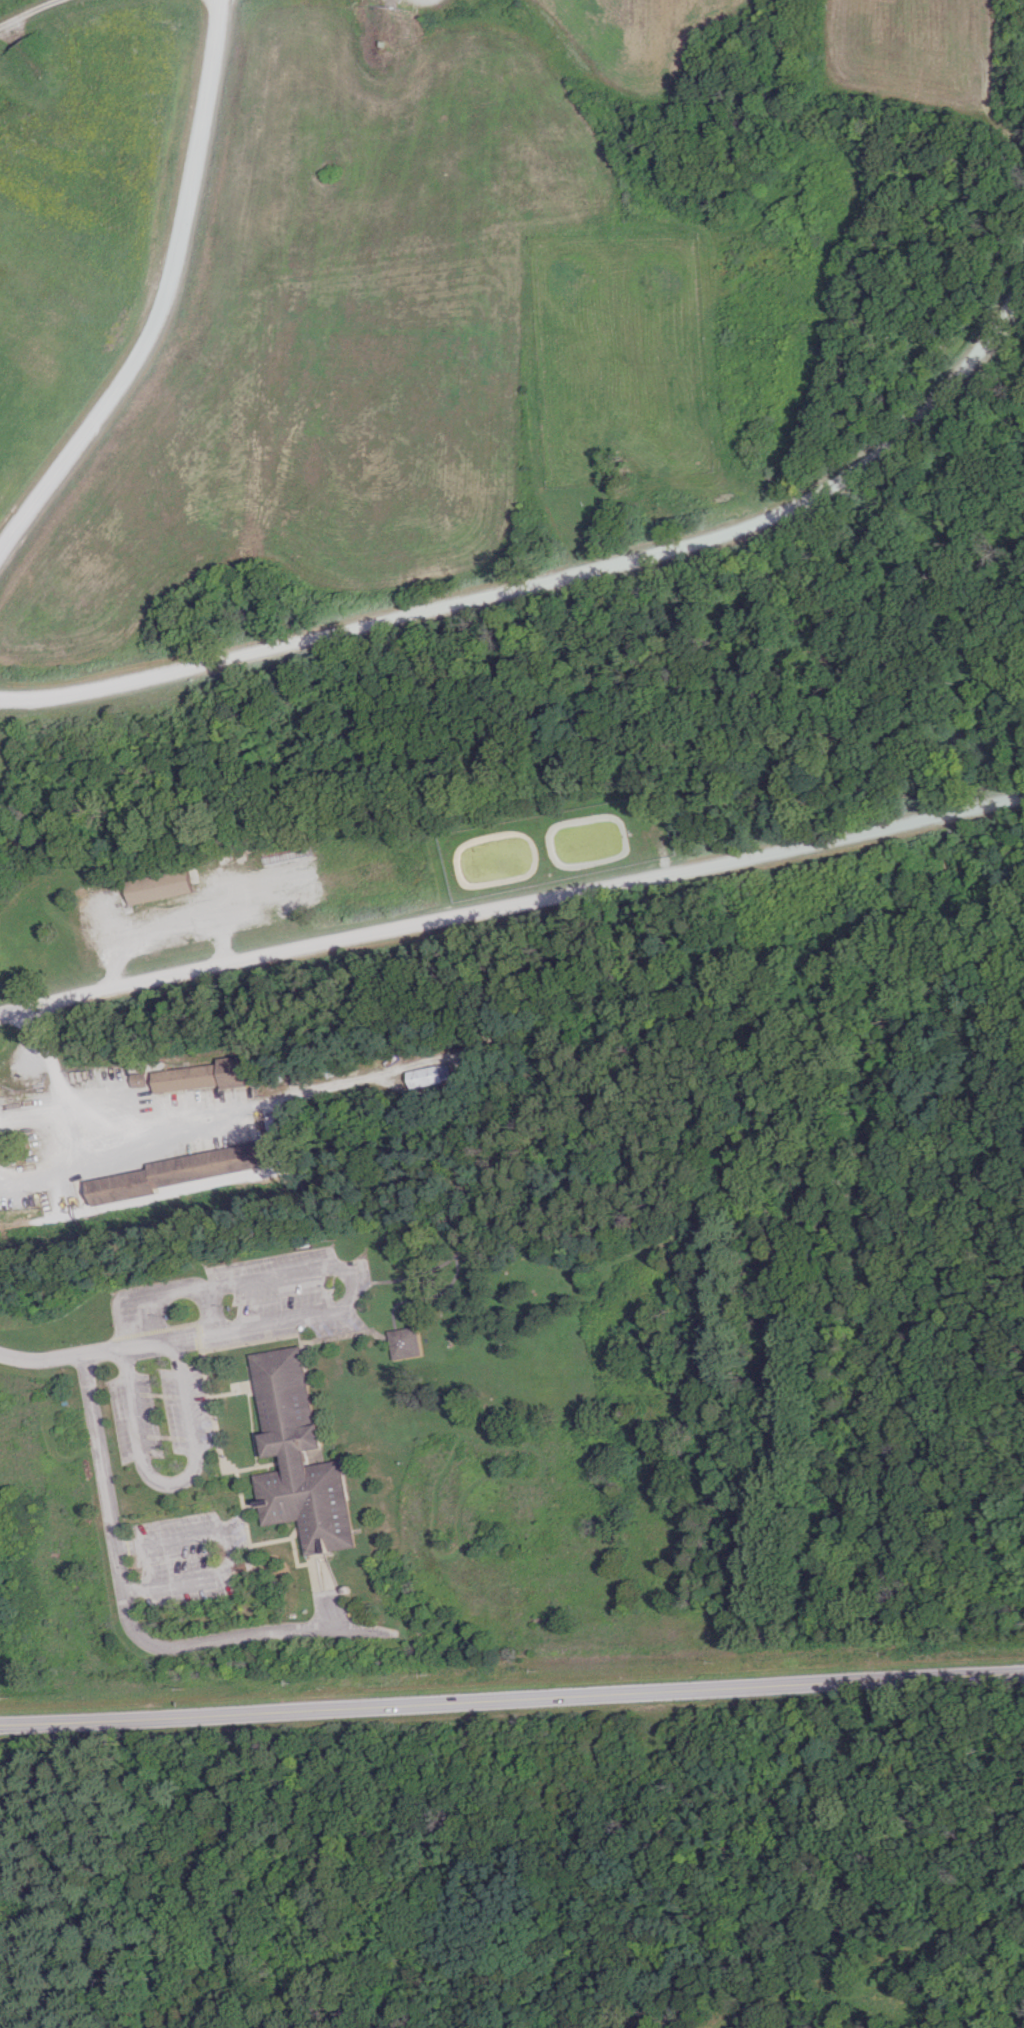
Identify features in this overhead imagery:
road: (28, 9)
road: (166, 295)
road: (560, 574)
building: (159, 886)
road: (511, 902)
road: (649, 1045)
building: (200, 1075)
building: (426, 1075)
road: (96, 1123)
road: (943, 1173)
road: (712, 1191)
road: (778, 1197)
road: (965, 1234)
road: (350, 1283)
road: (146, 1291)
parking lot: (293, 1291)
road: (426, 1296)
parking lot: (138, 1307)
road: (210, 1309)
road: (167, 1328)
road: (392, 1333)
building: (404, 1342)
road: (300, 1343)
road: (106, 1348)
road: (202, 1362)
road: (297, 1380)
road: (232, 1392)
parking lot: (160, 1412)
building: (296, 1455)
road: (258, 1465)
road: (171, 1483)
road: (276, 1539)
road: (230, 1548)
parking lot: (186, 1555)
road: (293, 1555)
road: (325, 1600)
road: (131, 1622)
road: (511, 1698)
road: (852, 1964)
road: (870, 2002)

